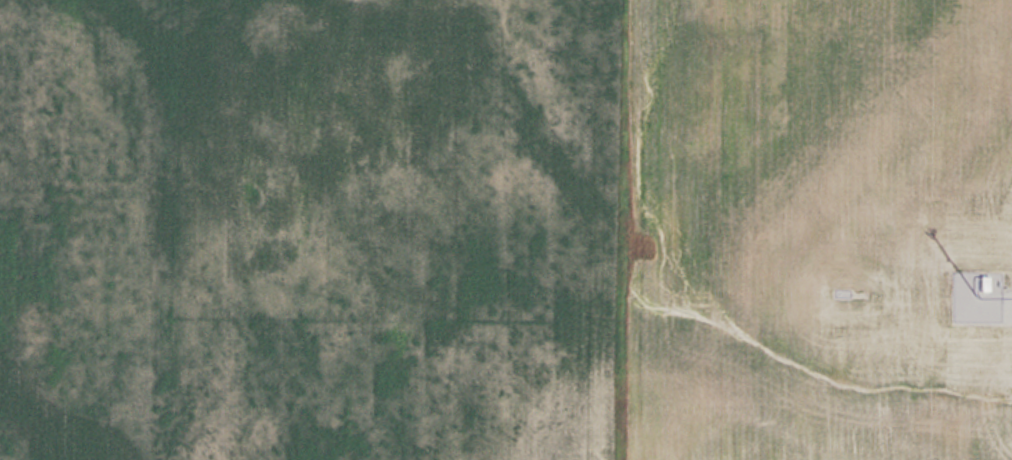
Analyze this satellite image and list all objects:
building: (986, 282)

